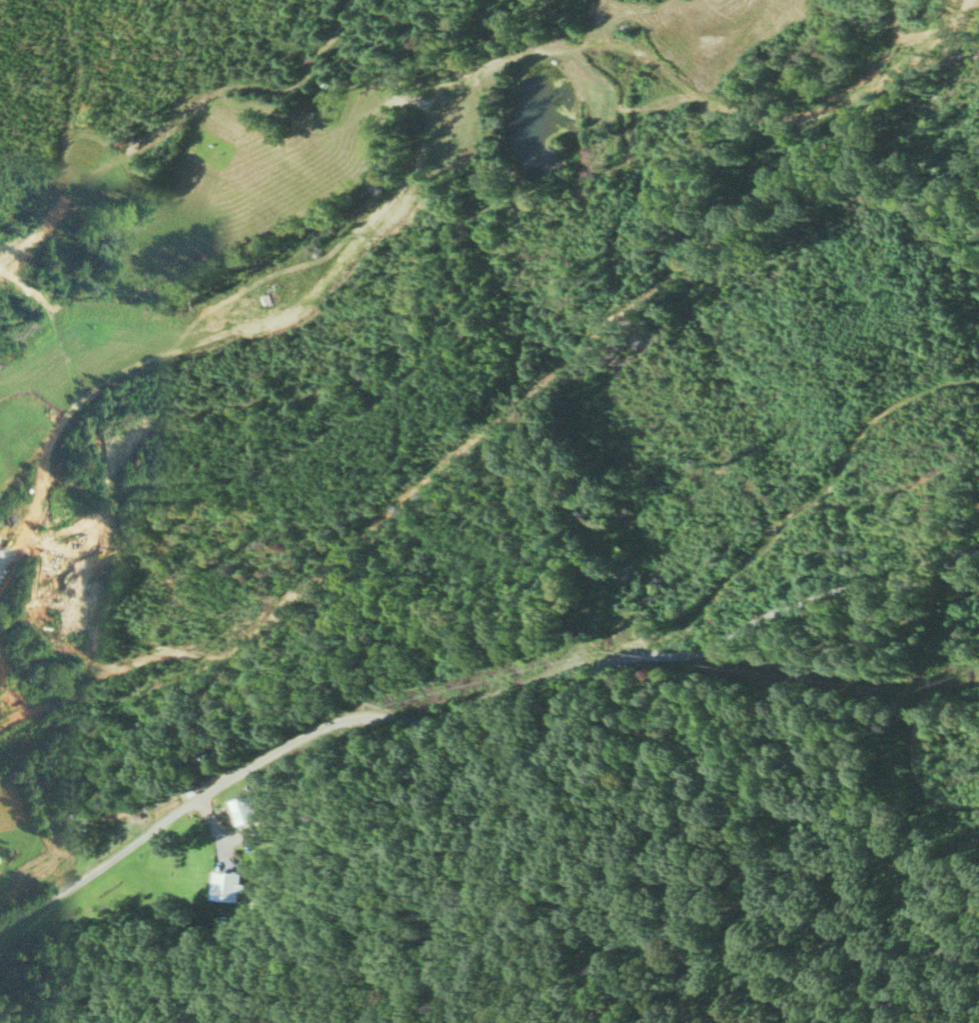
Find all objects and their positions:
road: (473, 707)
road: (910, 732)
building: (240, 810)
building: (223, 885)

